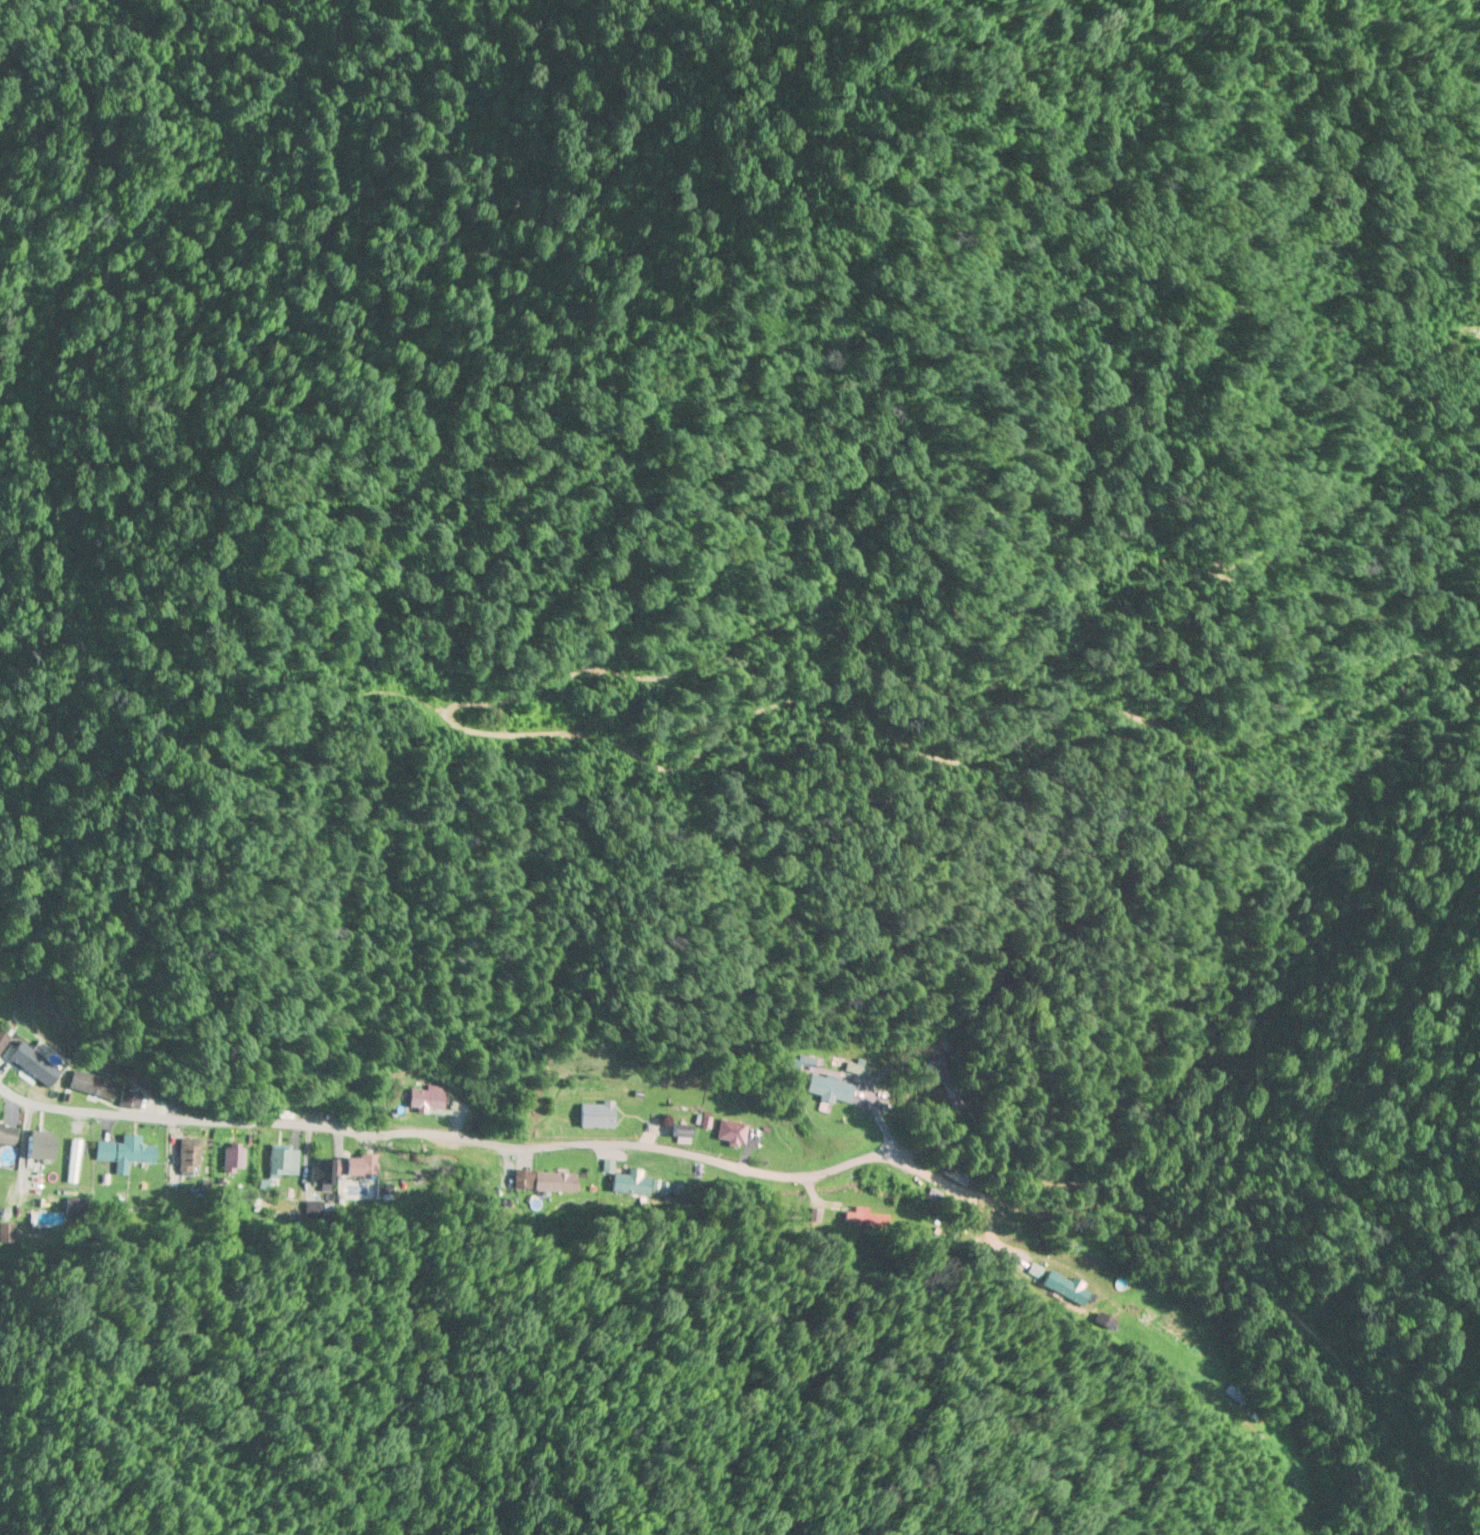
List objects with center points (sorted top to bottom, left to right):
building: (25, 1062)
building: (858, 1070)
building: (941, 1072)
building: (92, 1087)
building: (830, 1089)
building: (130, 1096)
building: (426, 1101)
building: (597, 1116)
building: (40, 1148)
road: (663, 1151)
building: (125, 1154)
building: (188, 1158)
building: (233, 1161)
building: (72, 1162)
building: (282, 1164)
building: (357, 1167)
building: (320, 1173)
building: (954, 1177)
building: (544, 1183)
building: (629, 1189)
building: (73, 1207)
building: (862, 1219)
building: (6, 1235)

